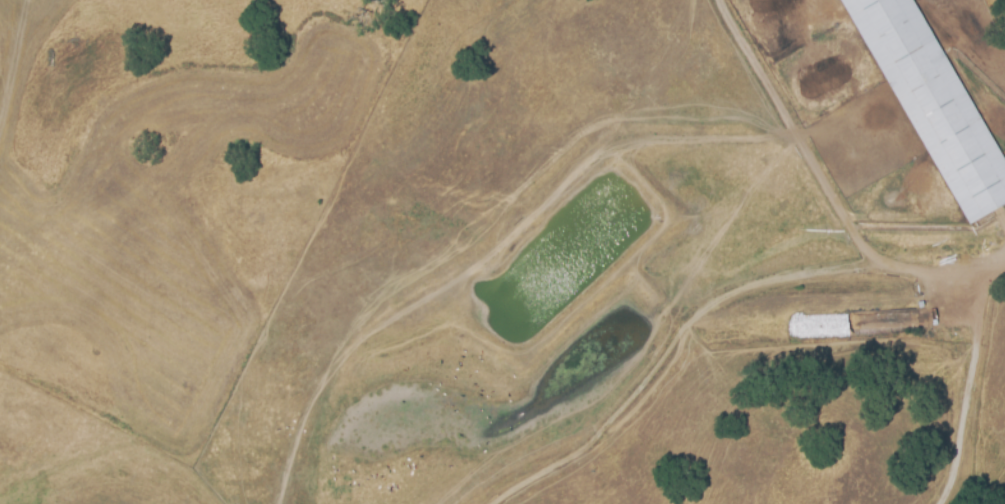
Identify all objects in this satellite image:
building: (932, 106)
road: (989, 268)

